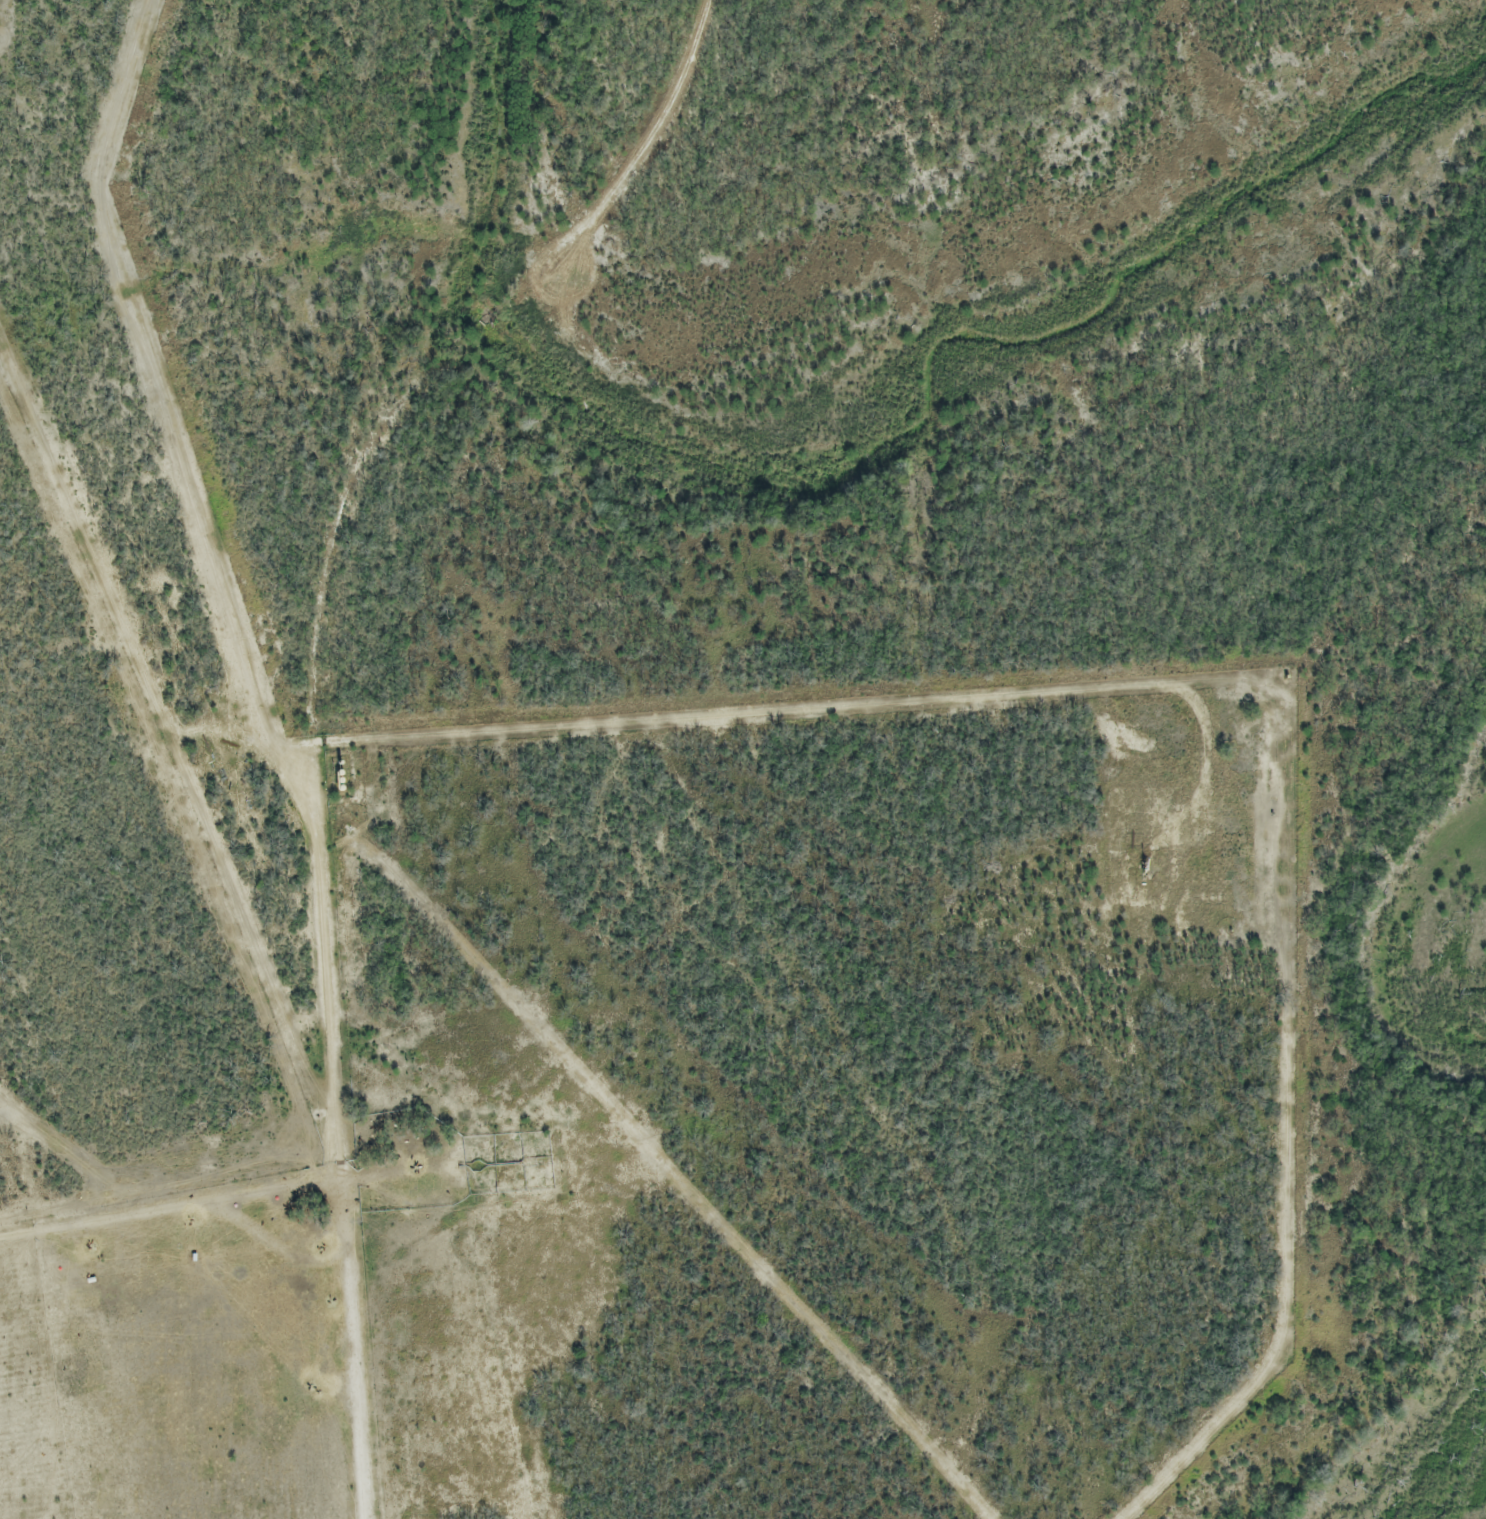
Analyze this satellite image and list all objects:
road: (269, 750)

